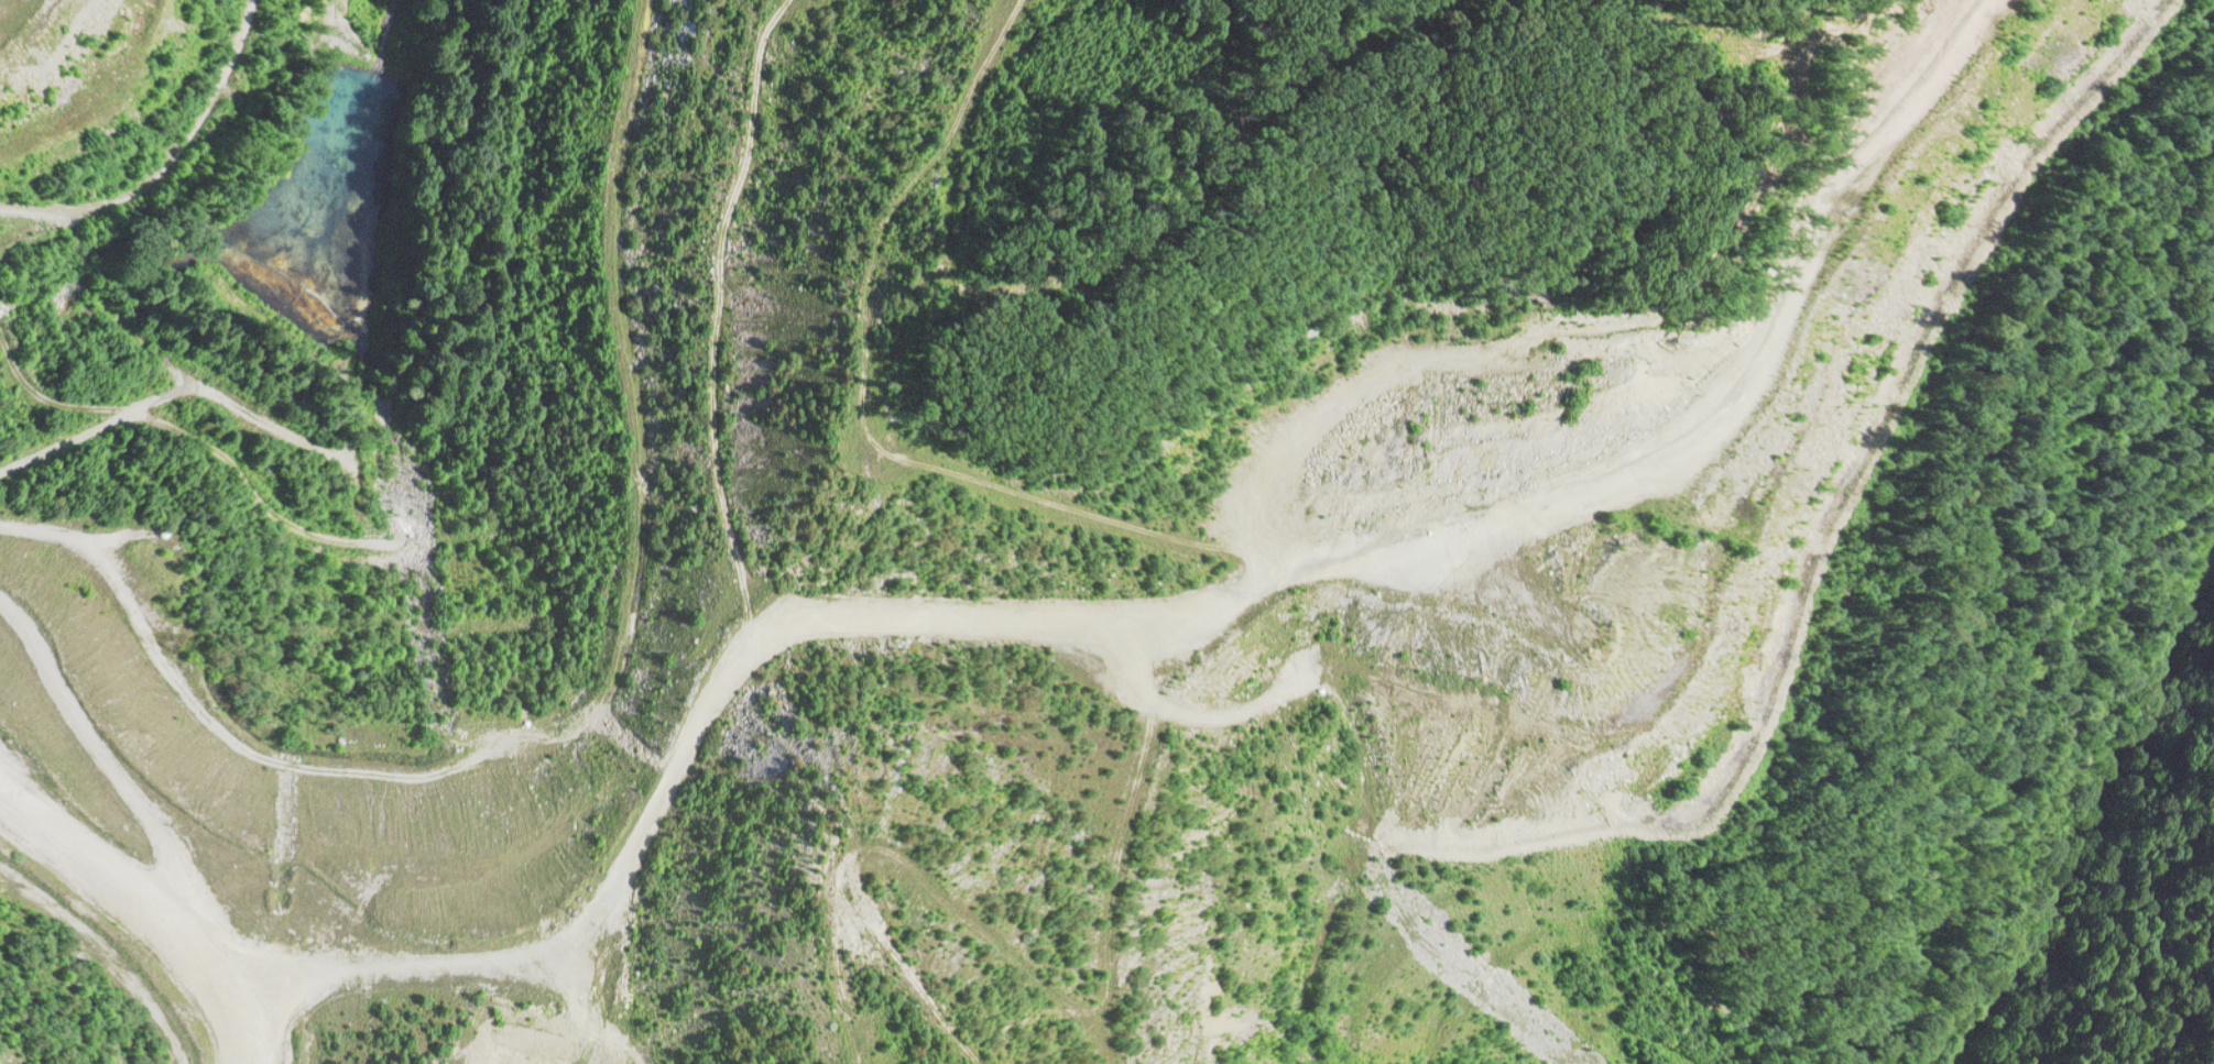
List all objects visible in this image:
quarry: (1106, 531)

